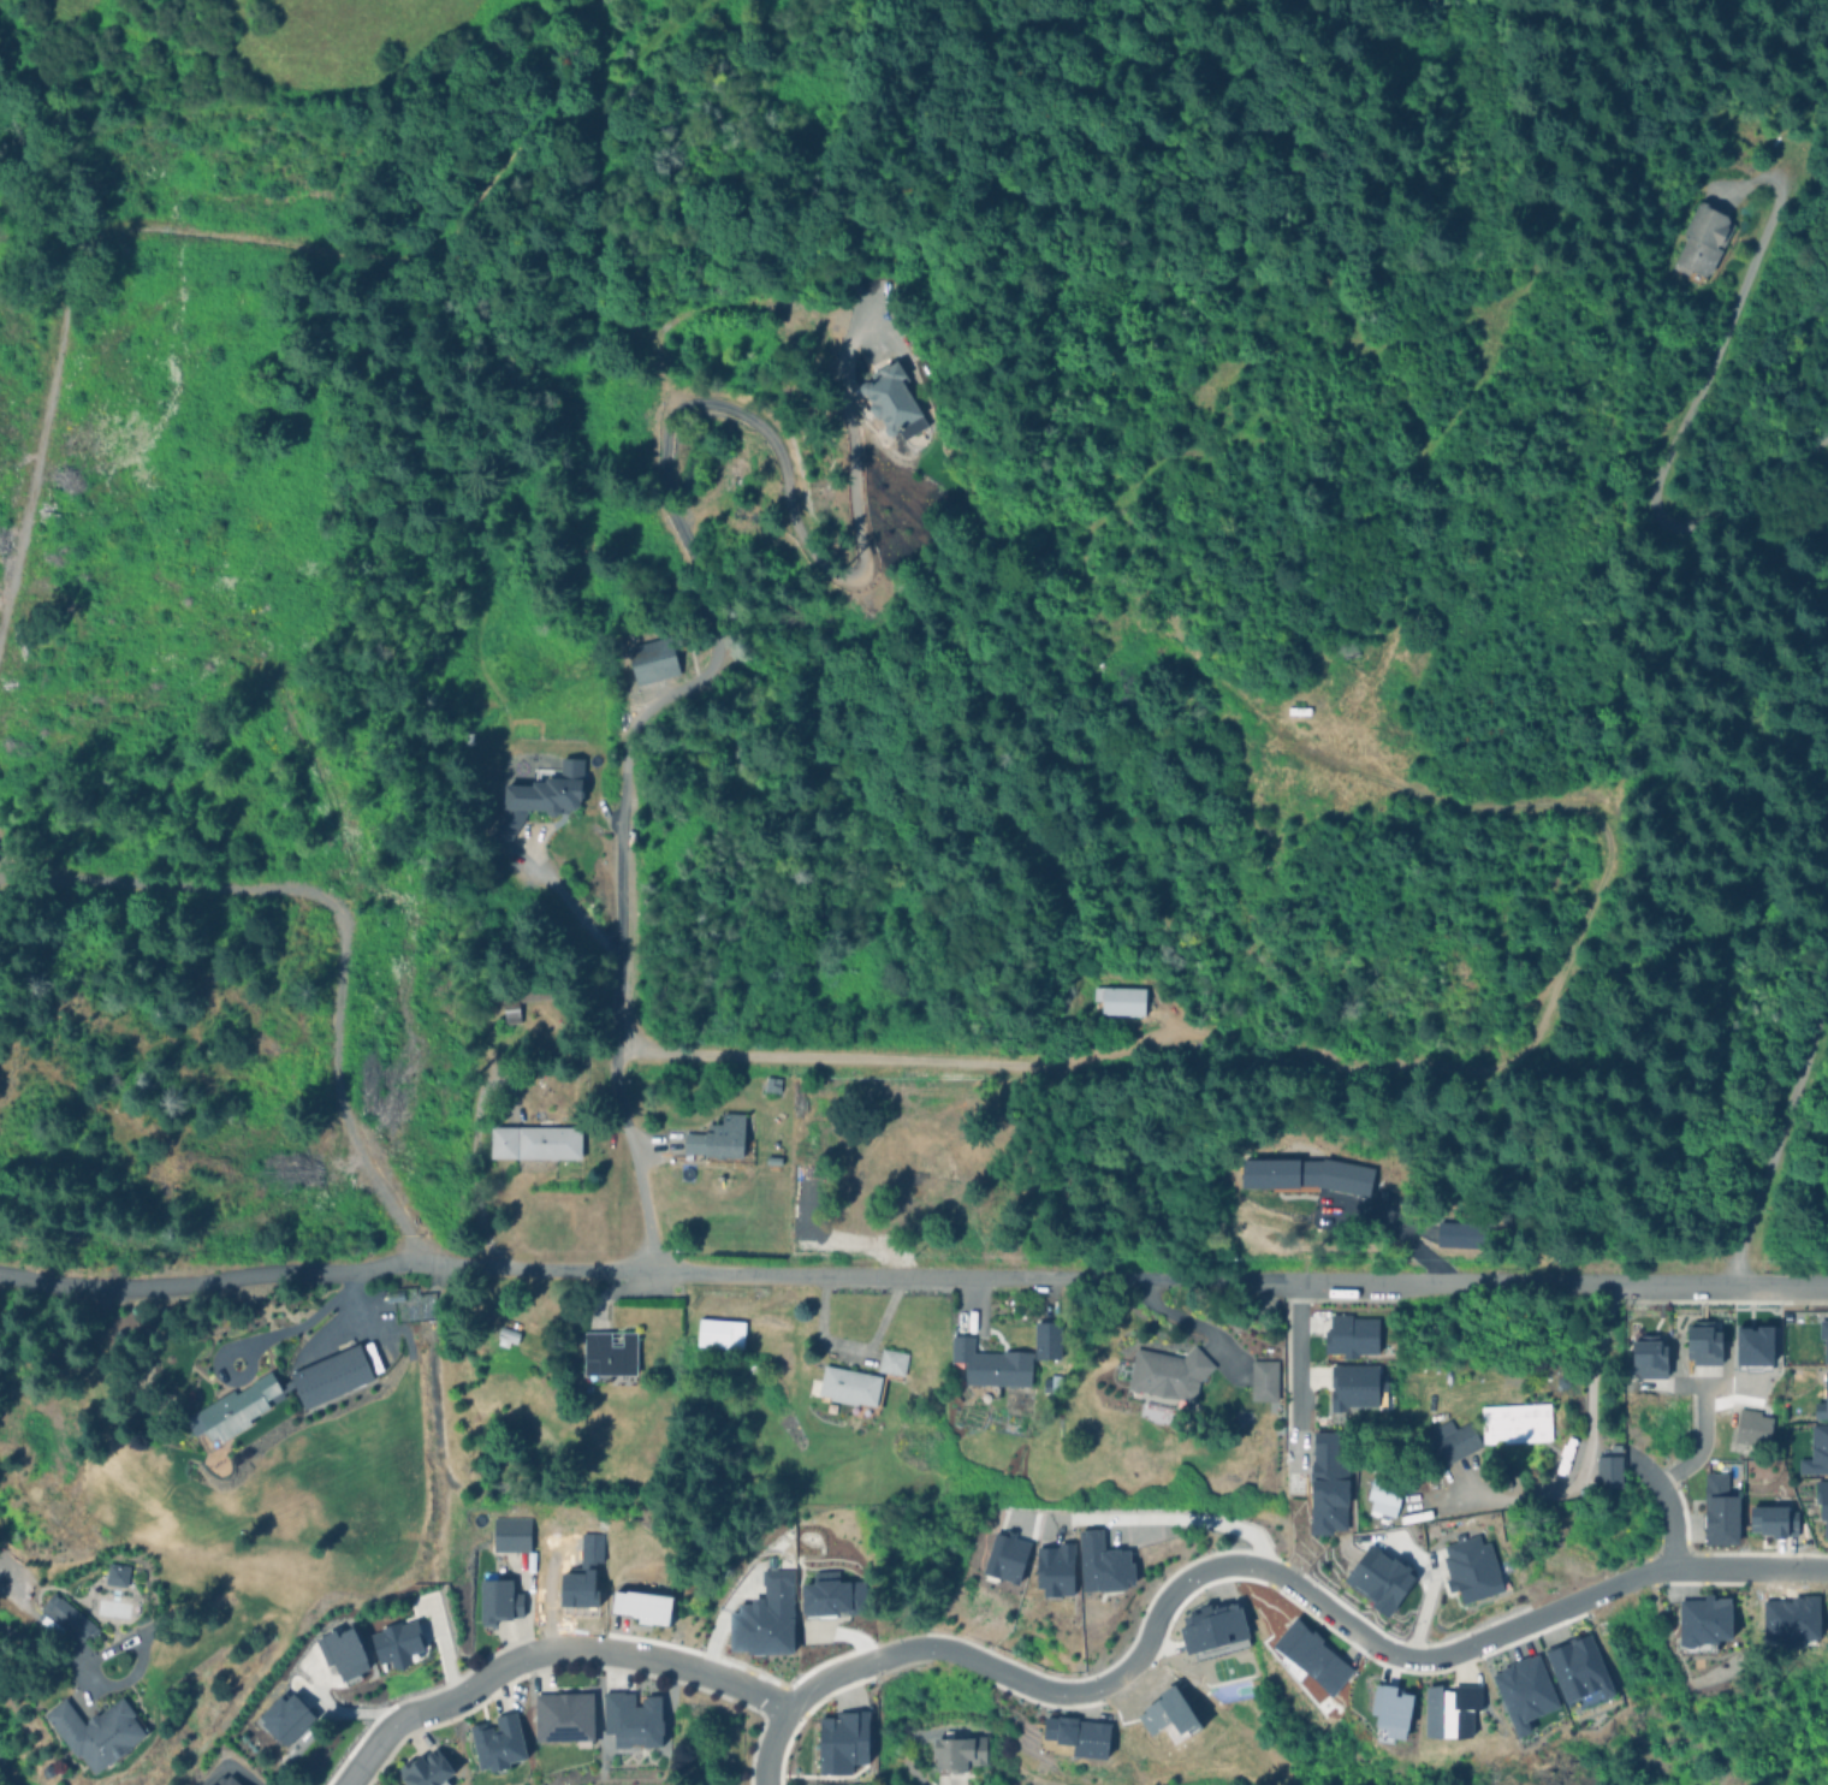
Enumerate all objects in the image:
building: (1703, 238)
building: (889, 398)
road: (1675, 441)
road: (811, 551)
building: (654, 669)
building: (541, 794)
road: (623, 874)
building: (1118, 1000)
building: (509, 1009)
road: (1087, 1052)
road: (812, 1057)
road: (1786, 1123)
building: (717, 1138)
building: (534, 1141)
building: (1305, 1174)
road: (1029, 1274)
road: (1721, 1277)
road: (222, 1281)
road: (304, 1321)
building: (716, 1330)
building: (1351, 1333)
building: (1043, 1336)
building: (1823, 1336)
building: (1702, 1345)
building: (605, 1351)
road: (1298, 1351)
building: (1646, 1353)
building: (987, 1362)
building: (855, 1377)
building: (1260, 1377)
building: (1052, 1378)
building: (1163, 1378)
building: (1561, 1378)
building: (1353, 1386)
building: (1824, 1386)
building: (273, 1392)
building: (1513, 1421)
road: (1589, 1424)
building: (1750, 1425)
road: (1698, 1437)
building: (1448, 1439)
building: (1815, 1453)
building: (1607, 1469)
building: (1327, 1484)
building: (1382, 1493)
road: (1664, 1499)
building: (1717, 1508)
road: (1171, 1516)
building: (1770, 1519)
building: (1823, 1519)
building: (509, 1531)
building: (1004, 1556)
building: (1102, 1562)
building: (1470, 1566)
building: (1054, 1568)
building: (115, 1572)
building: (1378, 1579)
building: (494, 1595)
road: (1324, 1601)
building: (63, 1613)
building: (764, 1615)
building: (1704, 1618)
building: (1211, 1625)
road: (54, 1627)
building: (396, 1642)
road: (522, 1649)
building: (342, 1650)
road: (696, 1665)
building: (1578, 1668)
road: (826, 1672)
building: (1523, 1690)
building: (1389, 1709)
building: (1449, 1709)
building: (1165, 1712)
building: (558, 1714)
building: (285, 1716)
building: (630, 1718)
road: (390, 1726)
building: (94, 1727)
building: (1078, 1733)
building: (842, 1740)
building: (497, 1742)
road: (767, 1742)
building: (955, 1750)
building: (421, 1767)
road: (5, 1775)
building: (221, 1779)

